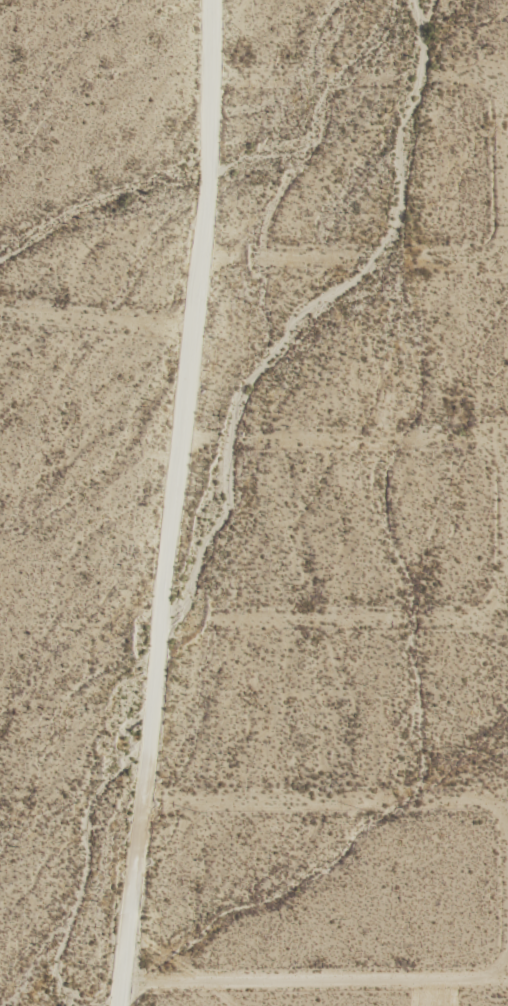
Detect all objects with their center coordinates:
road: (459, 172)
road: (94, 314)
road: (381, 436)
road: (167, 503)
road: (356, 617)
road: (507, 899)

